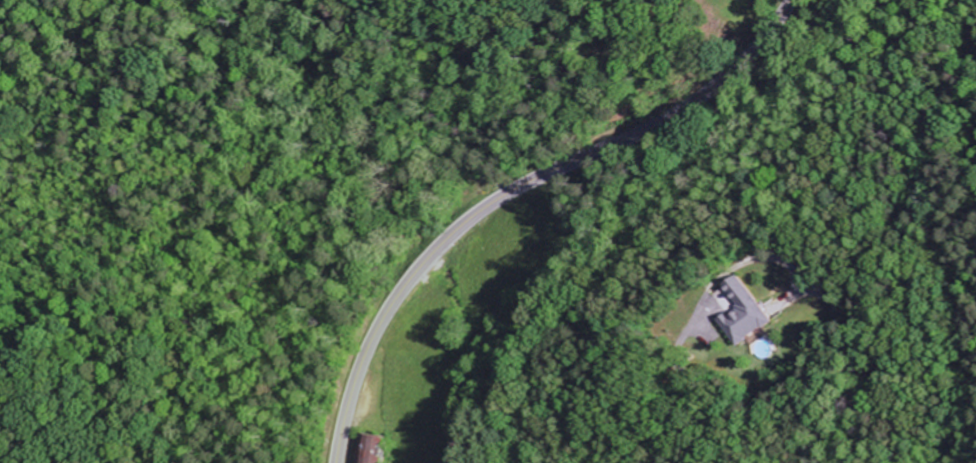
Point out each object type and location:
road: (516, 194)
building: (747, 314)
road: (679, 379)
building: (378, 449)

